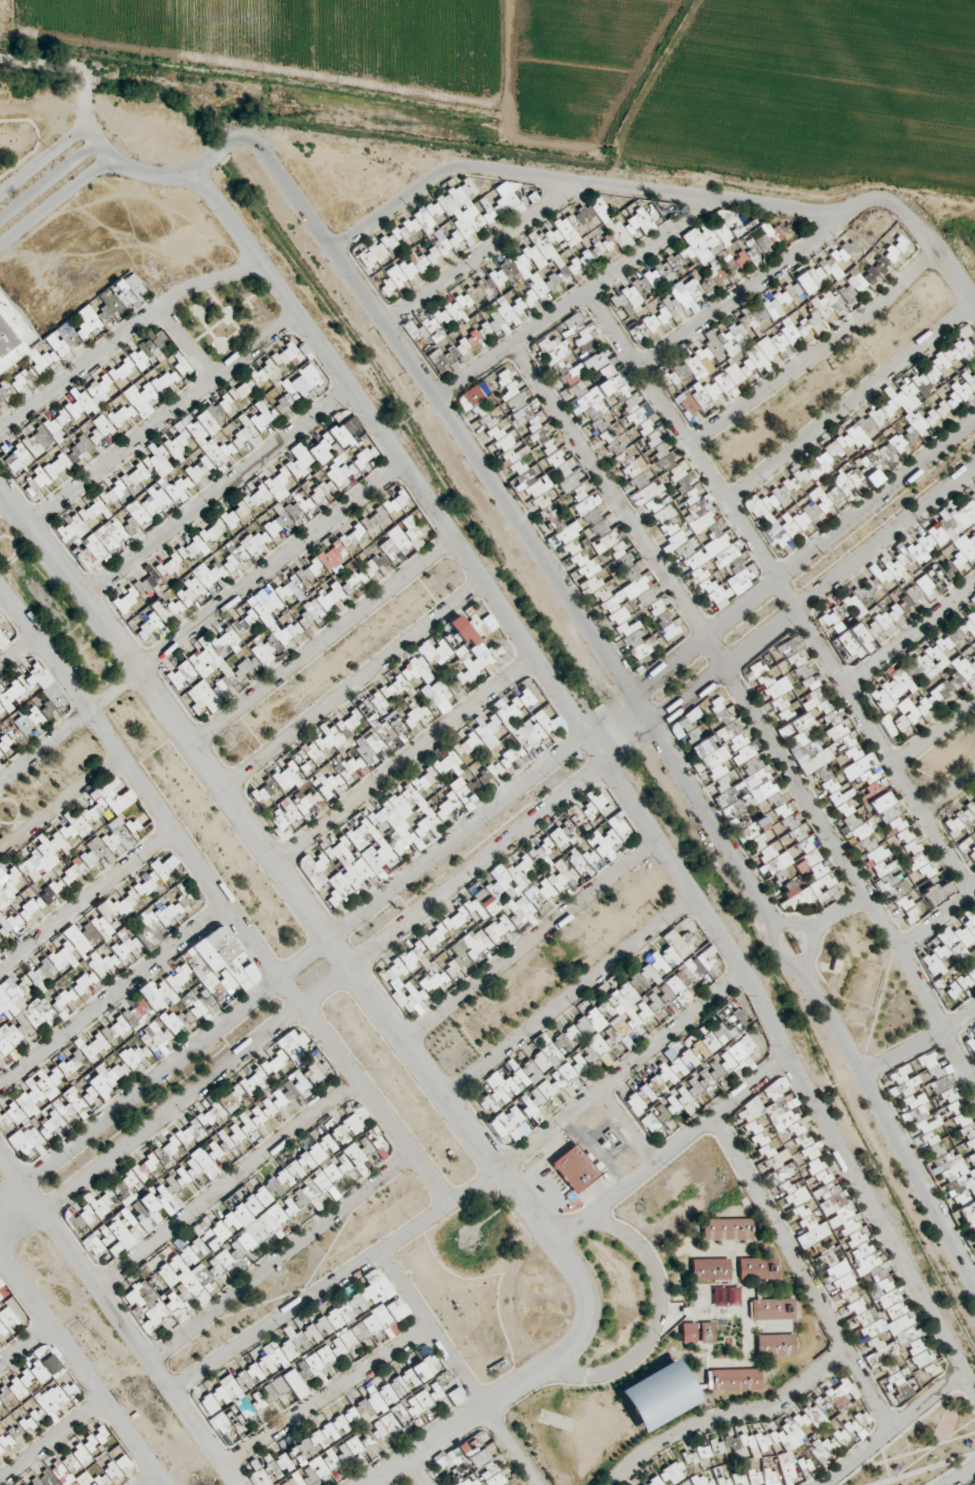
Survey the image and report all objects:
road: (44, 62)
road: (44, 112)
road: (44, 158)
road: (132, 171)
road: (49, 183)
road: (642, 189)
road: (54, 201)
road: (385, 210)
road: (921, 234)
road: (481, 253)
building: (841, 260)
road: (744, 293)
road: (576, 300)
park: (229, 315)
road: (121, 336)
road: (184, 345)
road: (817, 352)
road: (850, 402)
road: (162, 420)
road: (216, 493)
road: (517, 525)
road: (783, 589)
park: (54, 606)
road: (200, 624)
road: (909, 633)
road: (321, 644)
road: (350, 687)
building: (898, 688)
road: (754, 708)
road: (934, 731)
road: (403, 763)
road: (610, 767)
park: (48, 780)
road: (950, 795)
road: (487, 813)
road: (488, 857)
road: (297, 899)
road: (86, 901)
road: (220, 902)
road: (839, 915)
road: (937, 919)
road: (811, 934)
road: (530, 943)
building: (954, 948)
park: (552, 968)
road: (113, 999)
road: (569, 999)
road: (921, 1045)
road: (888, 1123)
road: (629, 1127)
road: (671, 1151)
building: (571, 1169)
road: (228, 1183)
road: (549, 1186)
road: (466, 1194)
road: (282, 1257)
road: (803, 1274)
road: (506, 1303)
park: (461, 1305)
road: (657, 1322)
road: (458, 1367)
road: (328, 1394)
road: (489, 1406)
road: (729, 1418)
road: (895, 1428)
park: (926, 1447)
road: (961, 1476)

